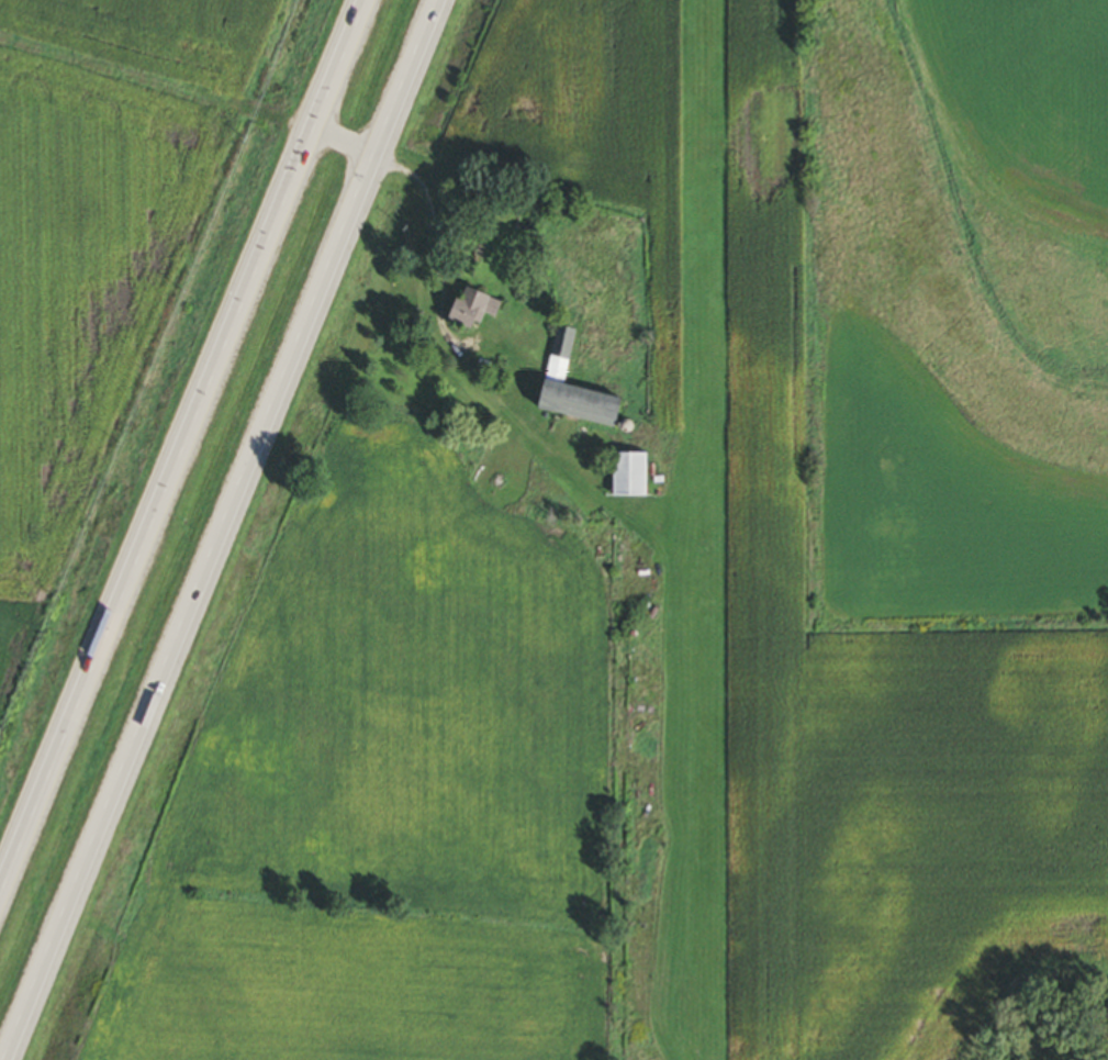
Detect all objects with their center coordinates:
road: (339, 138)
road: (429, 237)
building: (467, 312)
building: (563, 392)
road: (177, 432)
building: (622, 478)
road: (220, 529)

